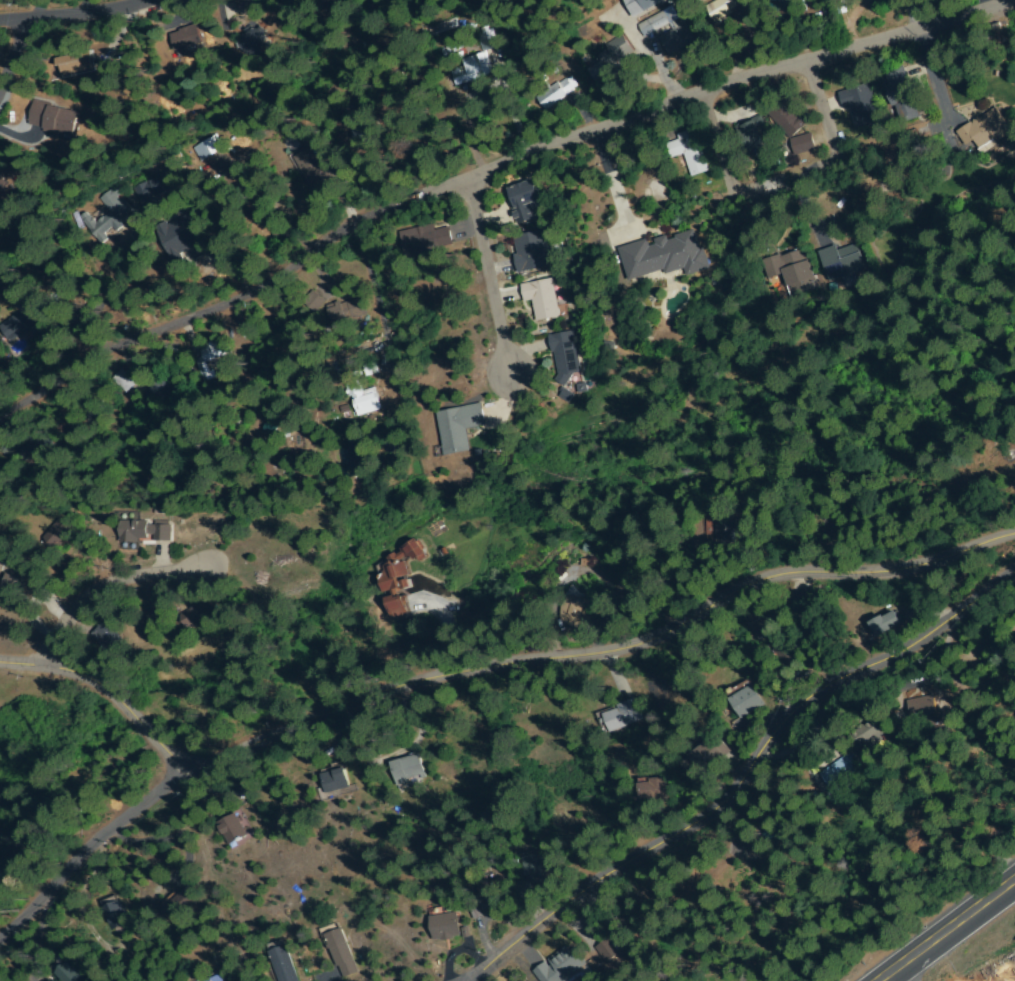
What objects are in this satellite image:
building: (294, 1)
building: (323, 1)
building: (242, 4)
building: (641, 6)
building: (781, 6)
building: (837, 6)
building: (721, 10)
road: (91, 12)
building: (654, 24)
building: (443, 28)
building: (486, 39)
building: (677, 39)
building: (186, 43)
building: (252, 44)
road: (14, 59)
building: (608, 63)
building: (77, 65)
building: (471, 70)
building: (556, 94)
building: (901, 95)
building: (420, 105)
building: (861, 106)
building: (788, 118)
building: (53, 120)
building: (986, 130)
building: (752, 135)
building: (303, 136)
building: (362, 136)
building: (802, 145)
building: (207, 149)
building: (689, 153)
building: (312, 168)
road: (492, 171)
building: (2, 174)
building: (1, 185)
building: (148, 199)
building: (525, 199)
building: (231, 203)
building: (109, 216)
building: (180, 239)
building: (424, 240)
building: (531, 252)
building: (660, 258)
building: (843, 262)
building: (791, 271)
road: (489, 278)
building: (314, 301)
building: (541, 301)
building: (92, 308)
building: (344, 310)
building: (25, 318)
building: (209, 355)
building: (564, 357)
building: (121, 381)
building: (163, 389)
building: (360, 394)
building: (96, 411)
building: (457, 427)
building: (5, 448)
building: (36, 452)
building: (721, 530)
building: (144, 531)
building: (55, 535)
building: (2, 560)
building: (398, 570)
building: (10, 586)
road: (98, 587)
building: (630, 596)
building: (400, 609)
building: (157, 611)
building: (574, 612)
building: (194, 616)
building: (887, 624)
building: (758, 628)
building: (106, 636)
building: (783, 653)
road: (489, 666)
building: (744, 700)
building: (921, 711)
building: (622, 716)
building: (869, 733)
building: (705, 761)
building: (405, 769)
building: (842, 772)
road: (746, 778)
building: (332, 779)
building: (652, 791)
building: (630, 824)
building: (231, 829)
building: (773, 834)
road: (89, 847)
building: (540, 868)
building: (522, 894)
building: (487, 896)
building: (179, 905)
building: (113, 913)
building: (443, 927)
building: (616, 933)
road: (952, 934)
building: (339, 953)
building: (282, 962)
building: (563, 968)
building: (68, 971)
building: (213, 978)
road: (477, 978)
building: (152, 980)

